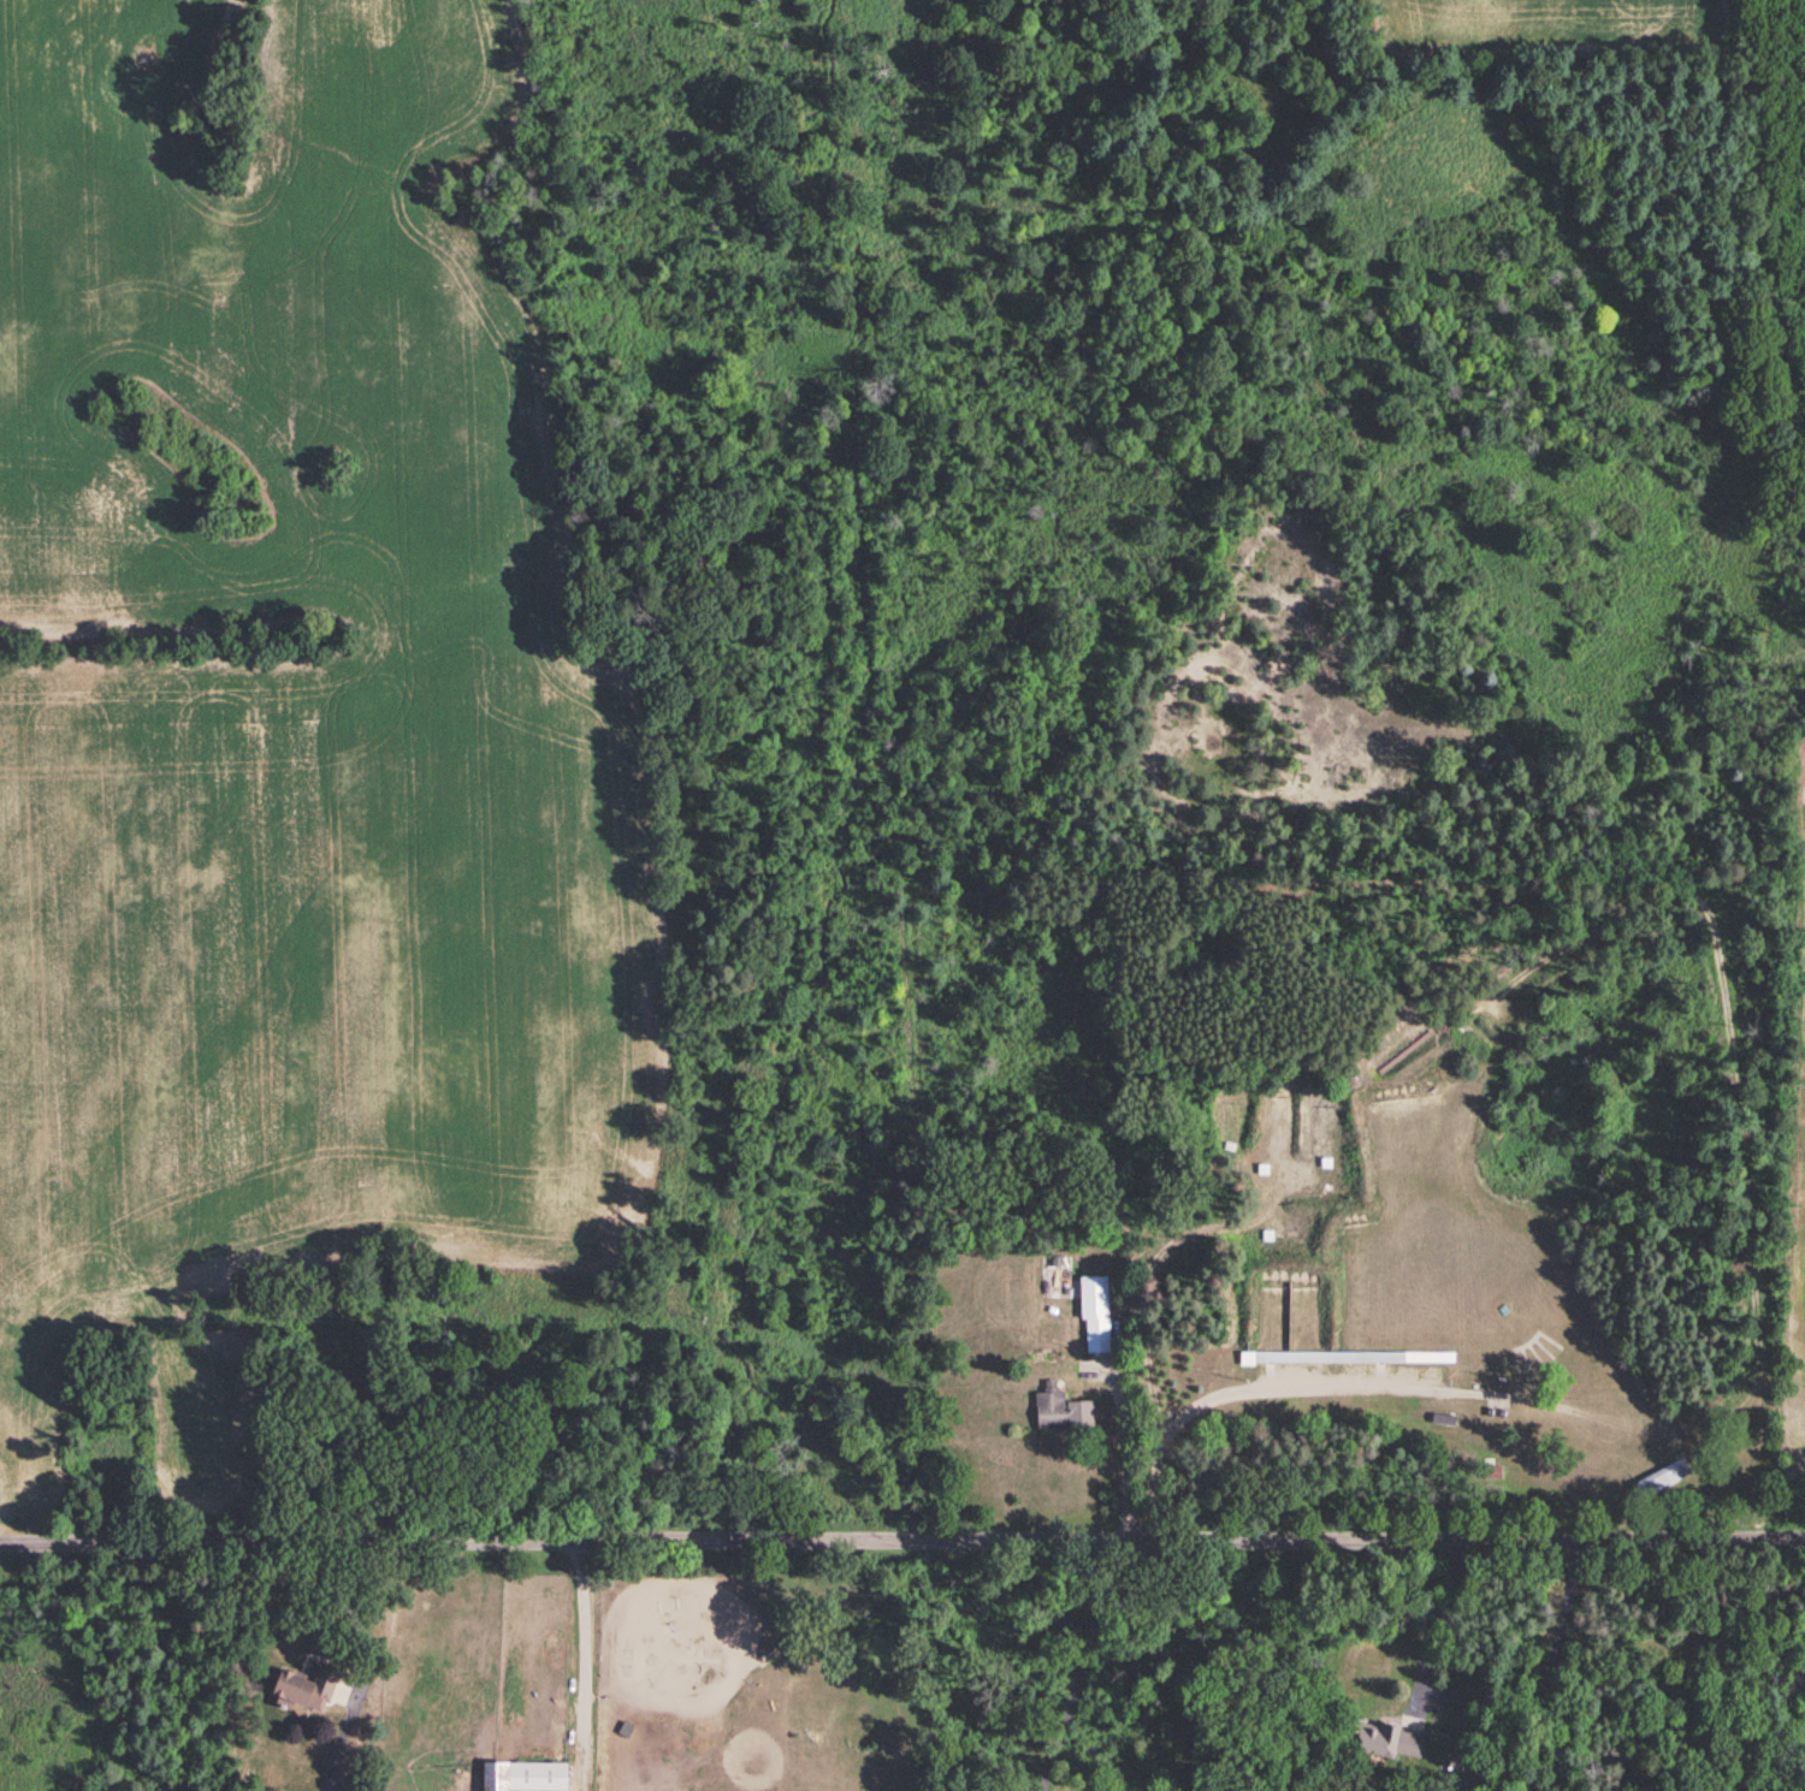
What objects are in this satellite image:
crop: (1531, 20)
crop: (294, 733)
road: (1751, 1061)
building: (1094, 1309)
crop: (1800, 1316)
building: (1059, 1406)
road: (1120, 1447)
building: (1659, 1475)
road: (901, 1540)
road: (1433, 1609)
road: (366, 1655)
road: (1076, 1659)
road: (582, 1665)
road: (1535, 1665)
building: (1386, 1738)
building: (522, 1774)
building: (1464, 1778)

